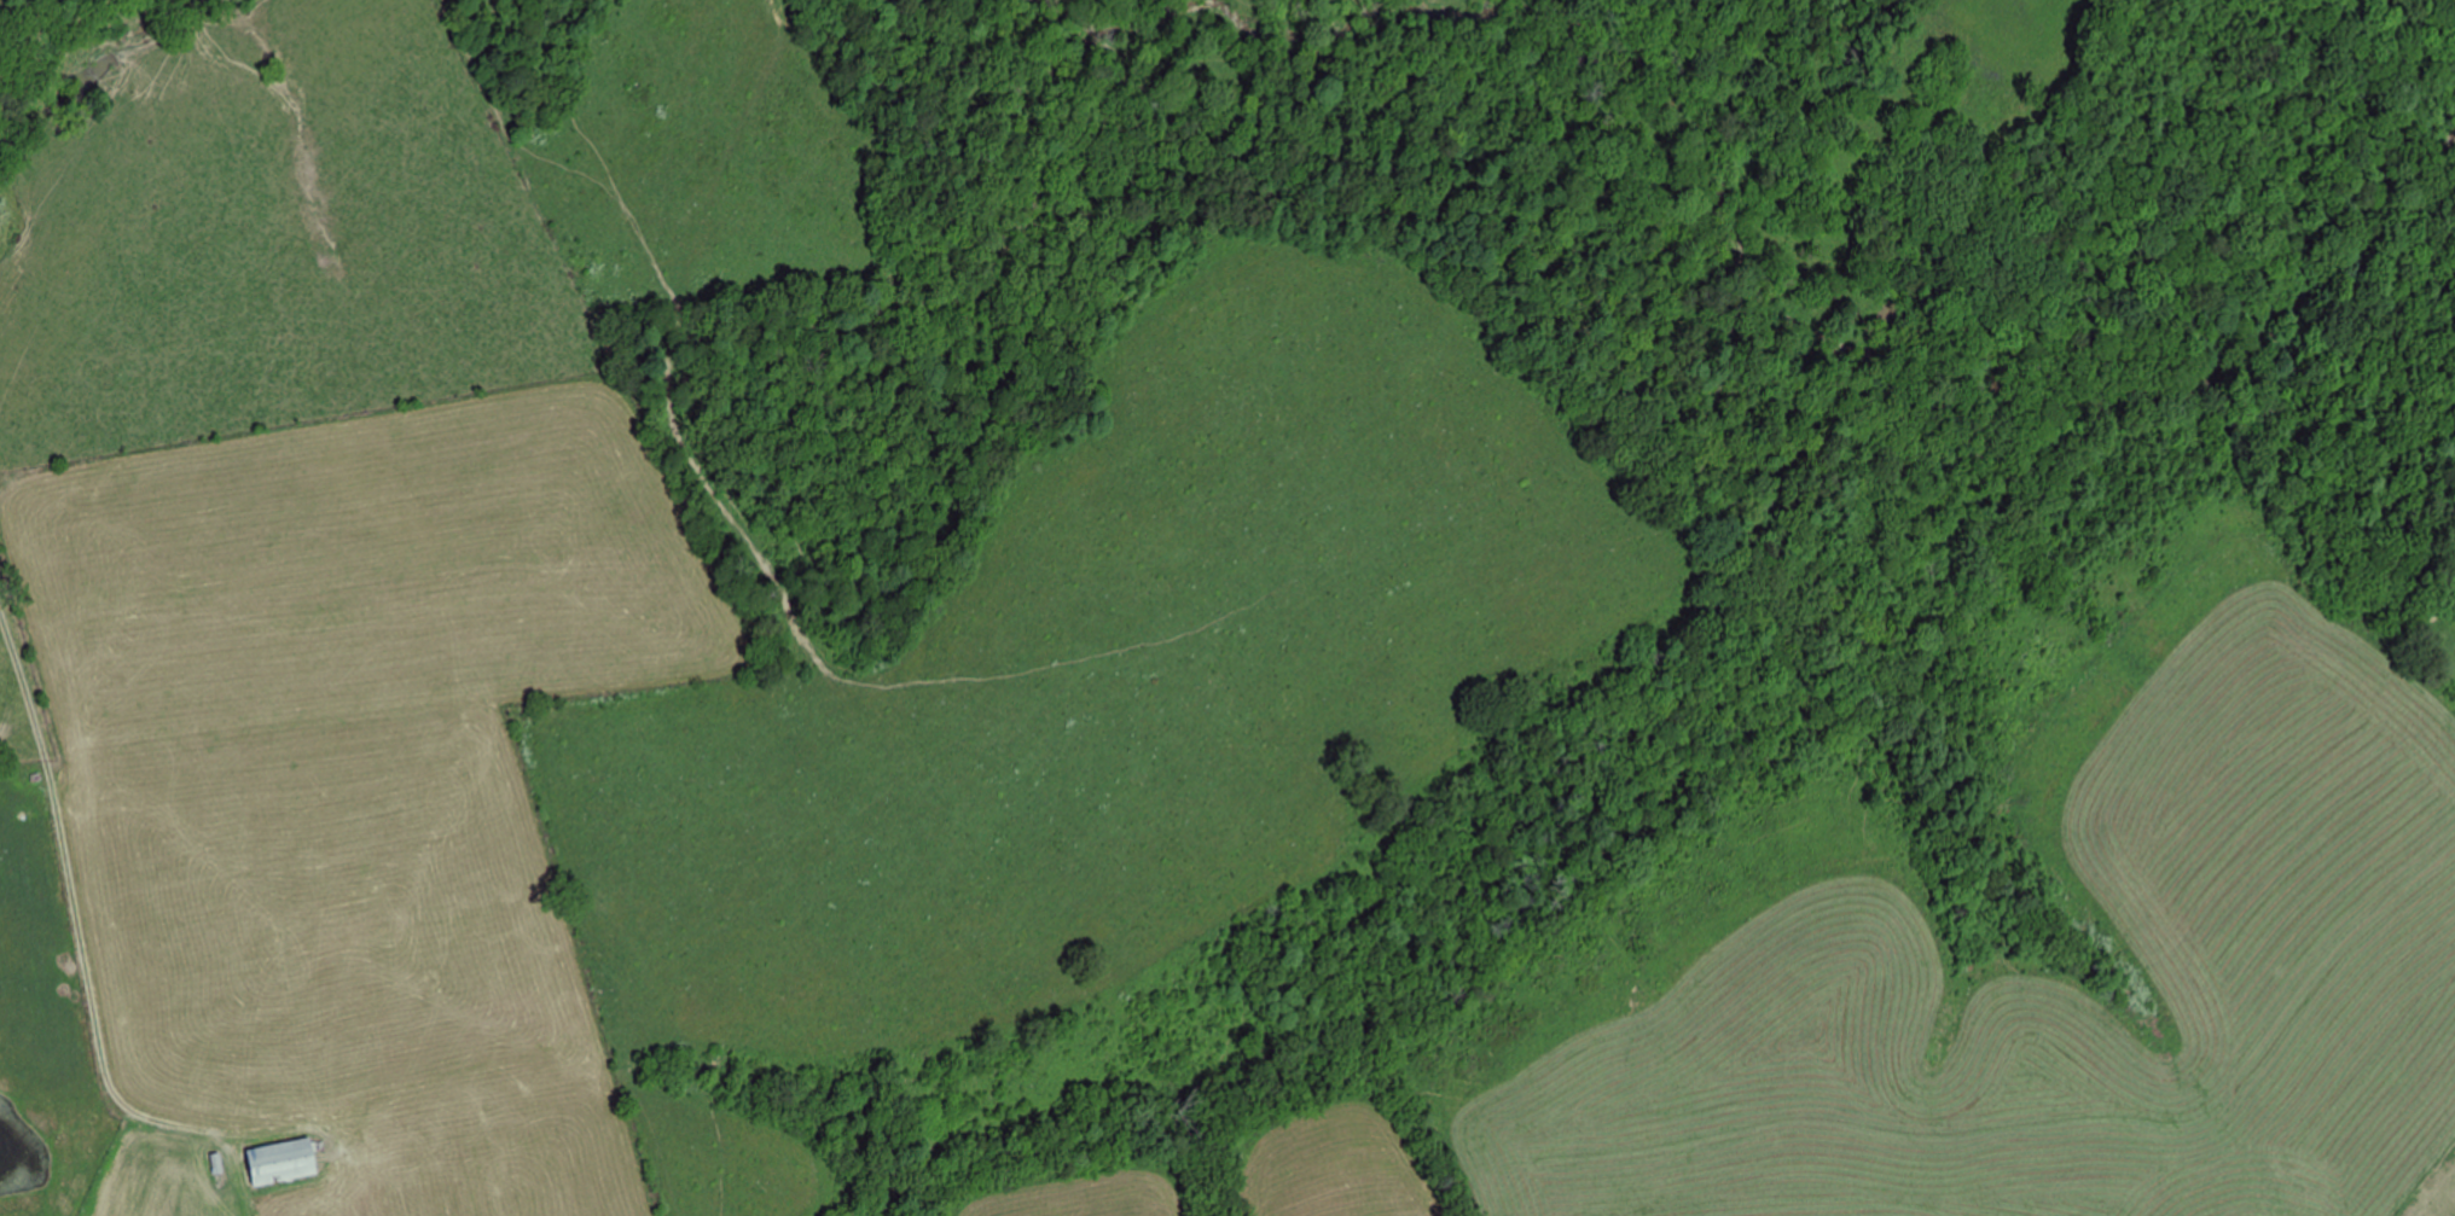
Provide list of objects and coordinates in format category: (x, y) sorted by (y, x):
building: (282, 1162)

